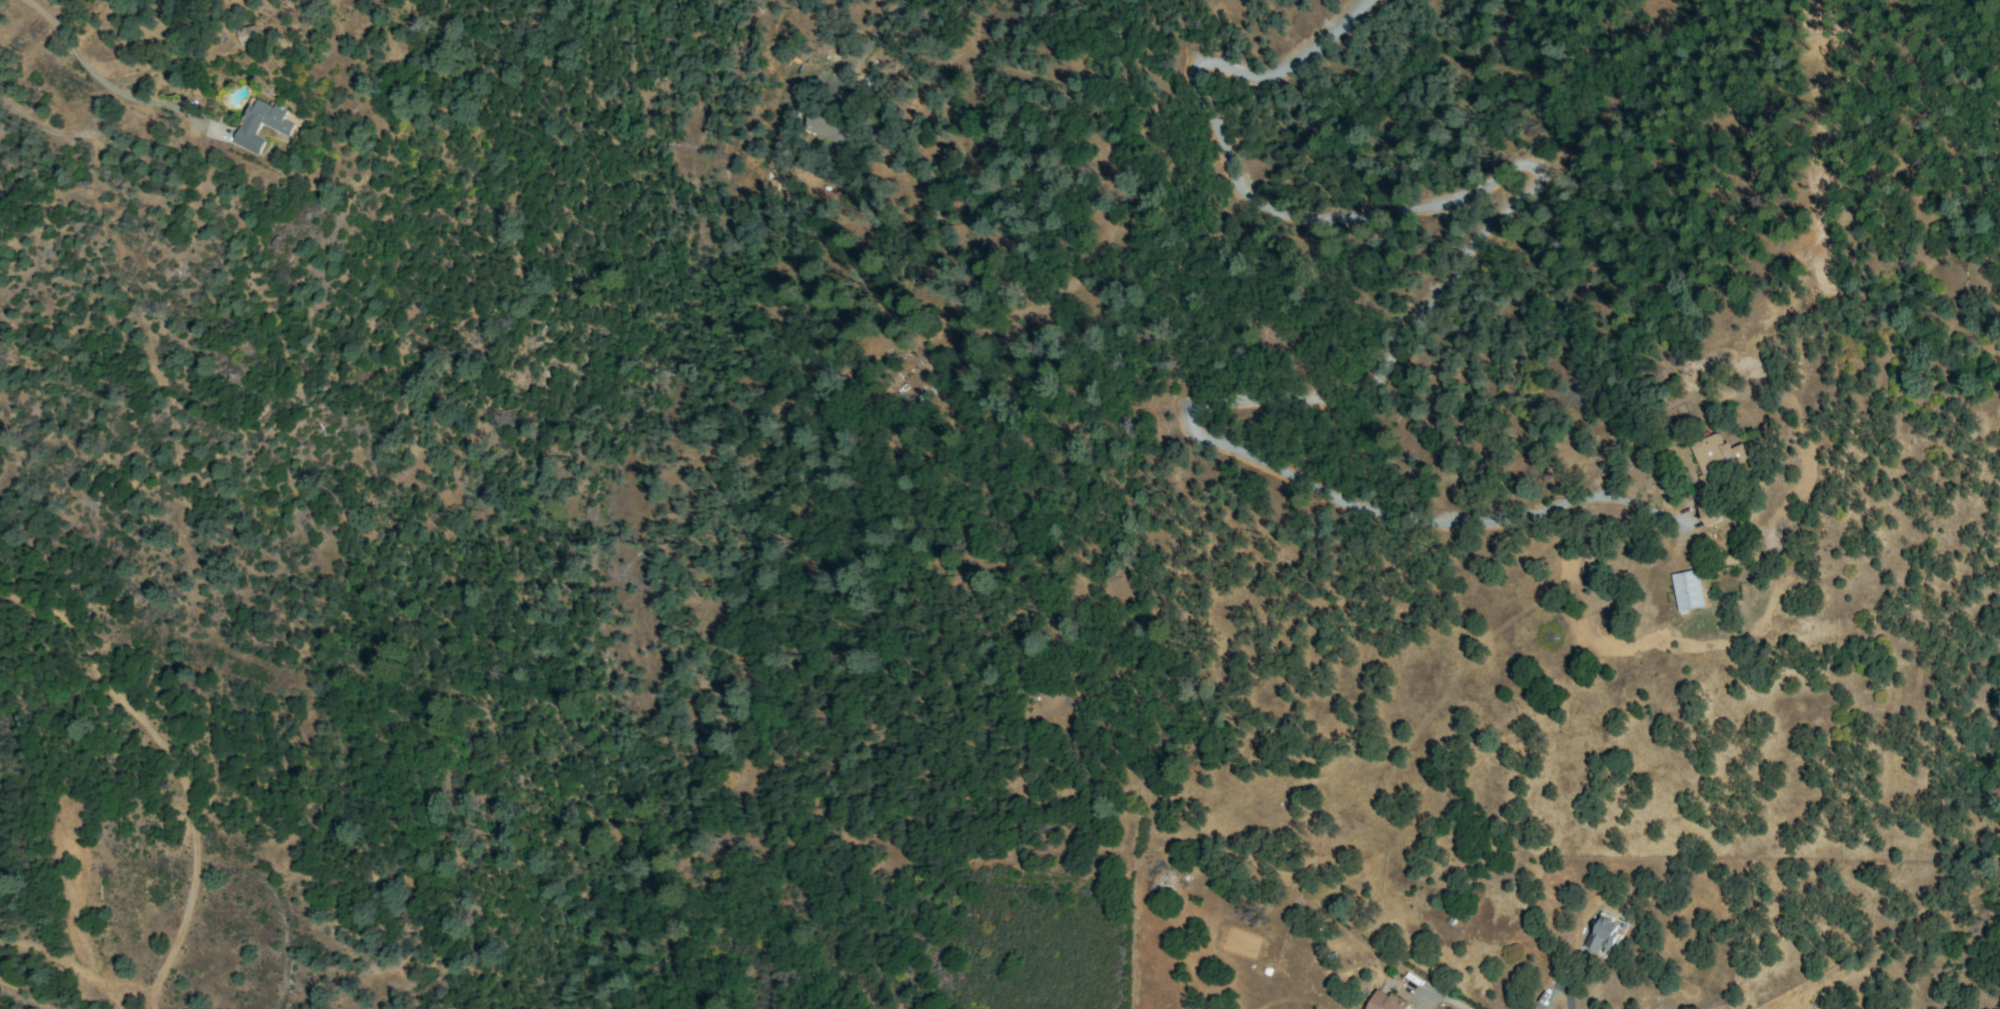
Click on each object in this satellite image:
building: (248, 35)
road: (870, 37)
road: (89, 71)
building: (824, 128)
building: (282, 129)
road: (50, 130)
building: (1716, 457)
building: (1706, 512)
building: (1686, 590)
building: (1603, 933)
road: (1567, 998)
road: (1445, 1000)
building: (1386, 1001)

